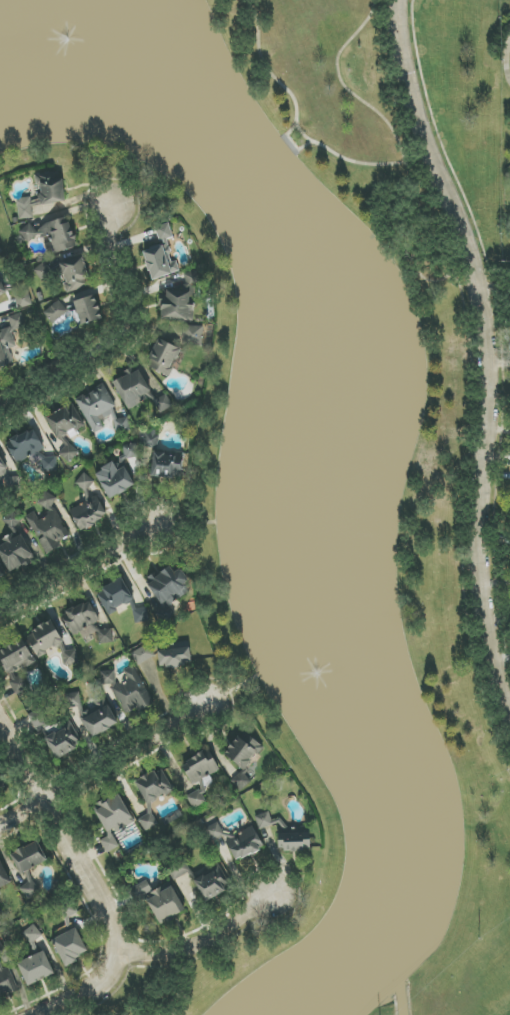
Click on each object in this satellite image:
fountain: (67, 46)
road: (297, 115)
road: (293, 143)
building: (43, 193)
building: (164, 232)
building: (52, 234)
building: (0, 250)
building: (160, 261)
building: (42, 271)
building: (74, 274)
building: (192, 278)
building: (17, 293)
building: (87, 307)
building: (54, 312)
building: (192, 337)
building: (9, 339)
road: (119, 339)
road: (488, 354)
building: (163, 357)
road: (471, 359)
building: (131, 388)
building: (97, 407)
building: (65, 428)
building: (149, 439)
building: (25, 447)
building: (49, 464)
building: (166, 465)
building: (3, 471)
building: (117, 474)
building: (84, 482)
building: (88, 513)
building: (48, 525)
building: (15, 551)
road: (77, 569)
building: (1, 575)
building: (168, 591)
building: (115, 595)
building: (140, 615)
building: (87, 623)
building: (44, 638)
fountain: (327, 650)
building: (164, 654)
building: (70, 657)
building: (16, 663)
building: (130, 693)
building: (39, 720)
building: (64, 741)
building: (243, 756)
road: (103, 766)
building: (2, 785)
building: (153, 793)
building: (195, 799)
building: (113, 820)
building: (263, 820)
building: (215, 832)
road: (66, 835)
building: (294, 839)
building: (244, 844)
building: (29, 864)
building: (179, 869)
building: (4, 874)
building: (211, 884)
building: (0, 893)
building: (159, 900)
building: (70, 911)
building: (0, 912)
building: (32, 934)
building: (70, 946)
building: (1, 949)
road: (152, 955)
building: (35, 968)
building: (6, 983)

